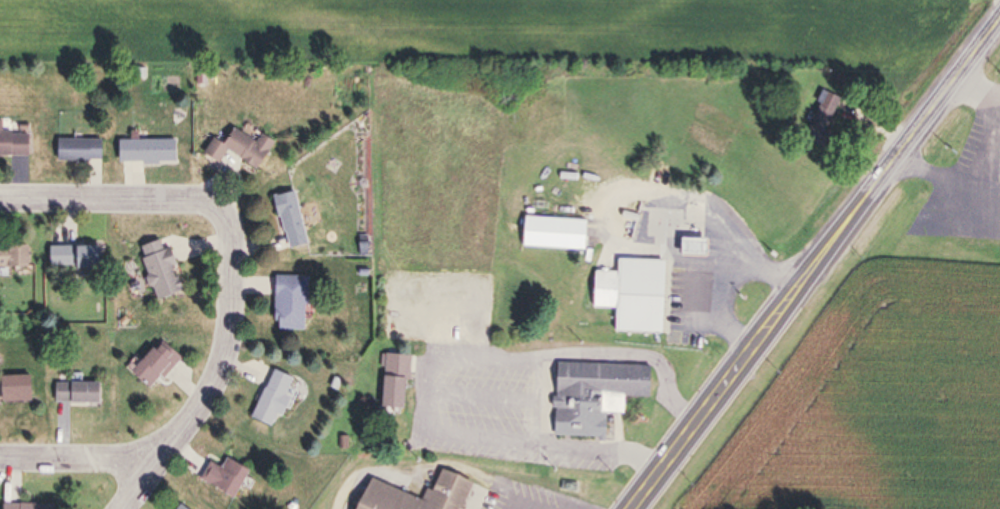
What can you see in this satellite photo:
road: (975, 49)
road: (974, 85)
building: (819, 119)
building: (16, 143)
building: (237, 149)
building: (77, 151)
building: (144, 152)
road: (104, 197)
building: (288, 221)
building: (542, 234)
building: (17, 257)
building: (71, 258)
road: (714, 267)
building: (157, 270)
building: (630, 294)
road: (793, 297)
building: (287, 305)
road: (485, 349)
road: (639, 349)
road: (222, 363)
building: (152, 367)
building: (391, 383)
road: (431, 388)
building: (22, 389)
building: (83, 393)
road: (483, 393)
road: (535, 393)
building: (591, 396)
crop: (867, 398)
building: (268, 399)
road: (549, 438)
road: (80, 458)
building: (220, 478)
building: (450, 487)
road: (550, 504)
building: (35, 506)
building: (178, 507)

